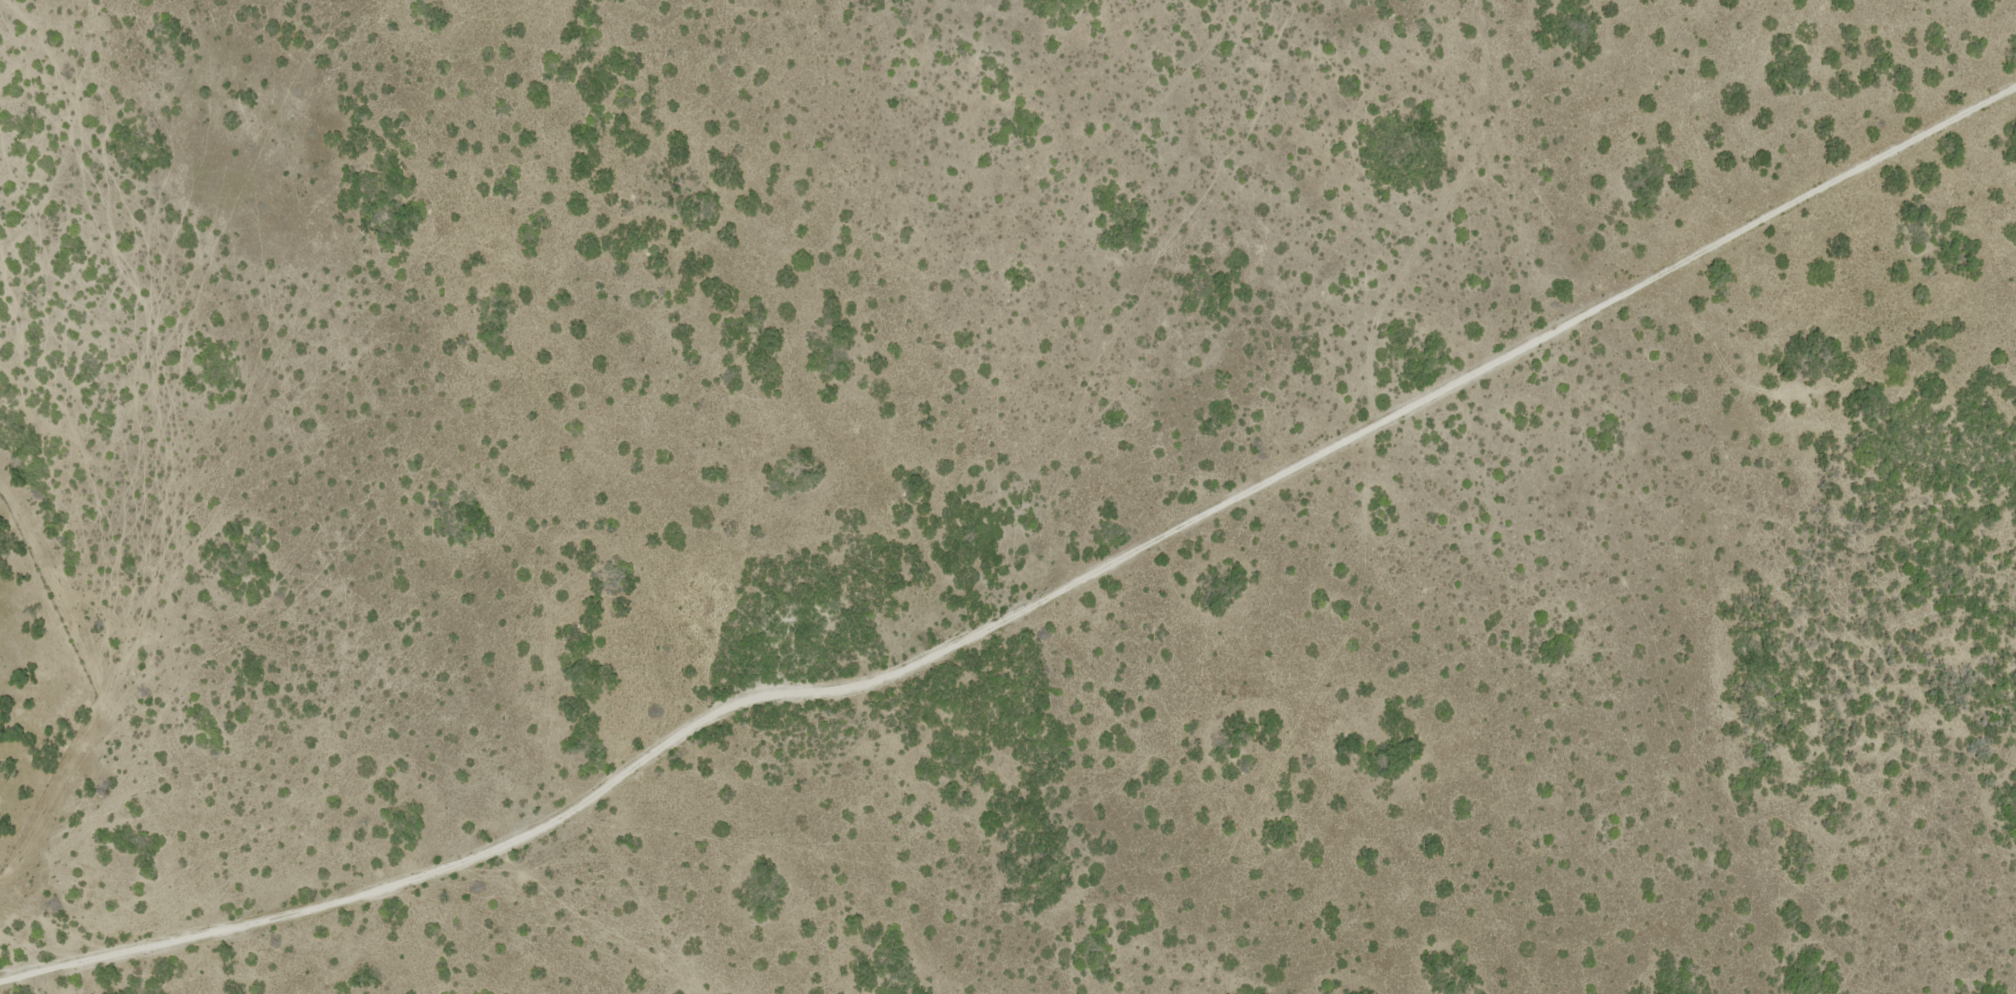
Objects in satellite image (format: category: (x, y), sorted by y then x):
road: (409, 870)

